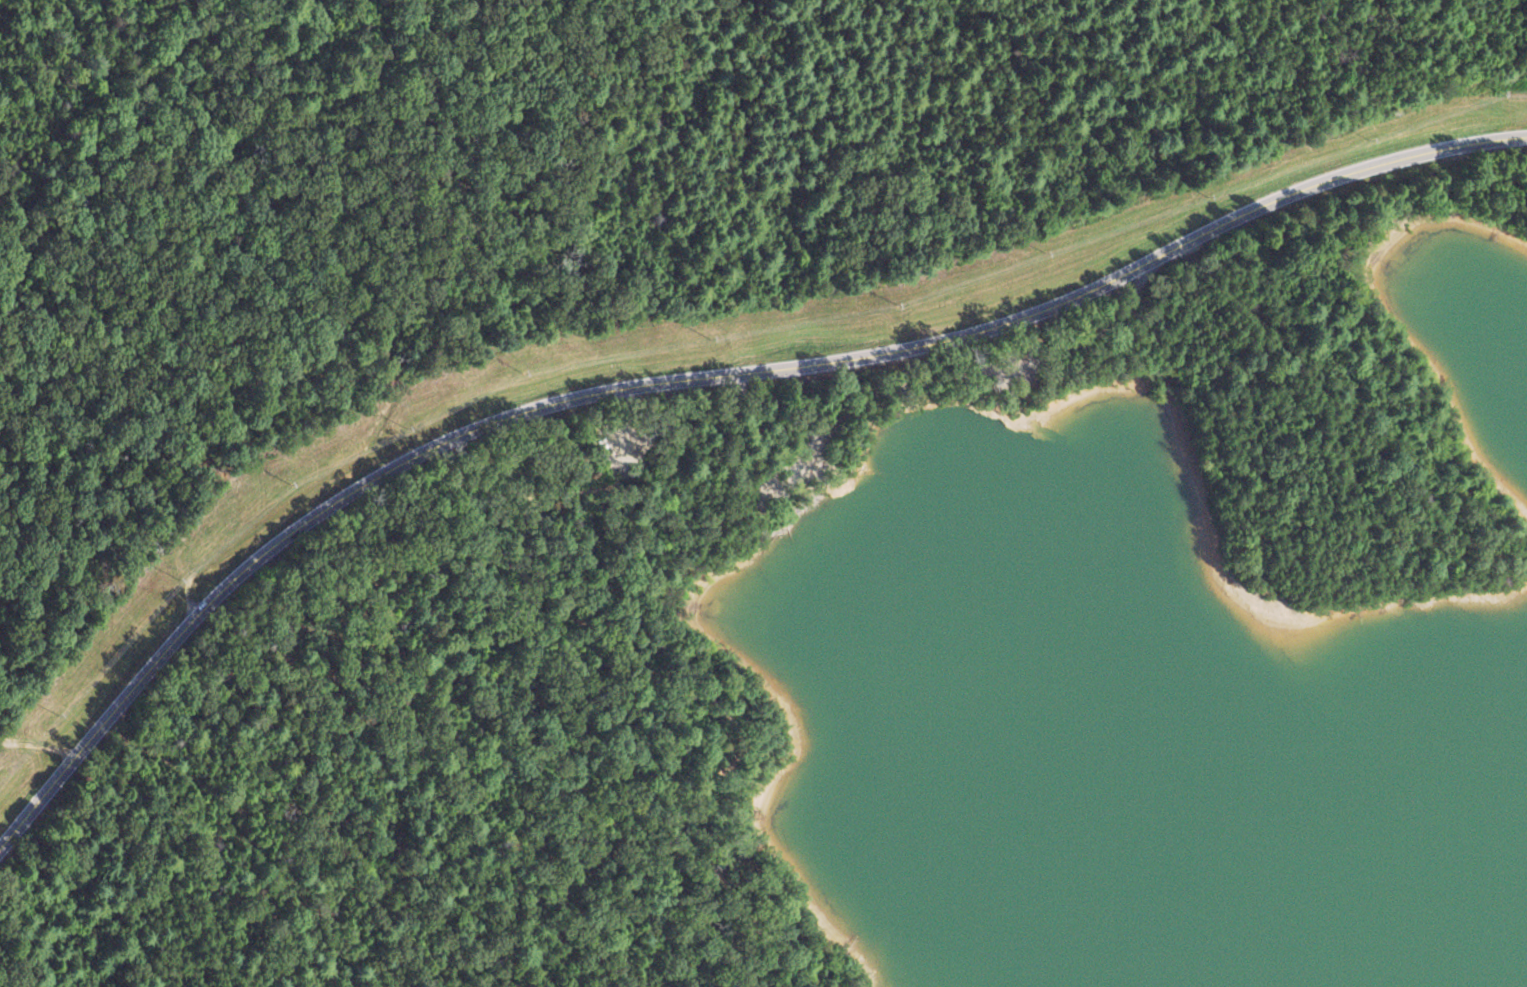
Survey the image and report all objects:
road: (694, 379)

